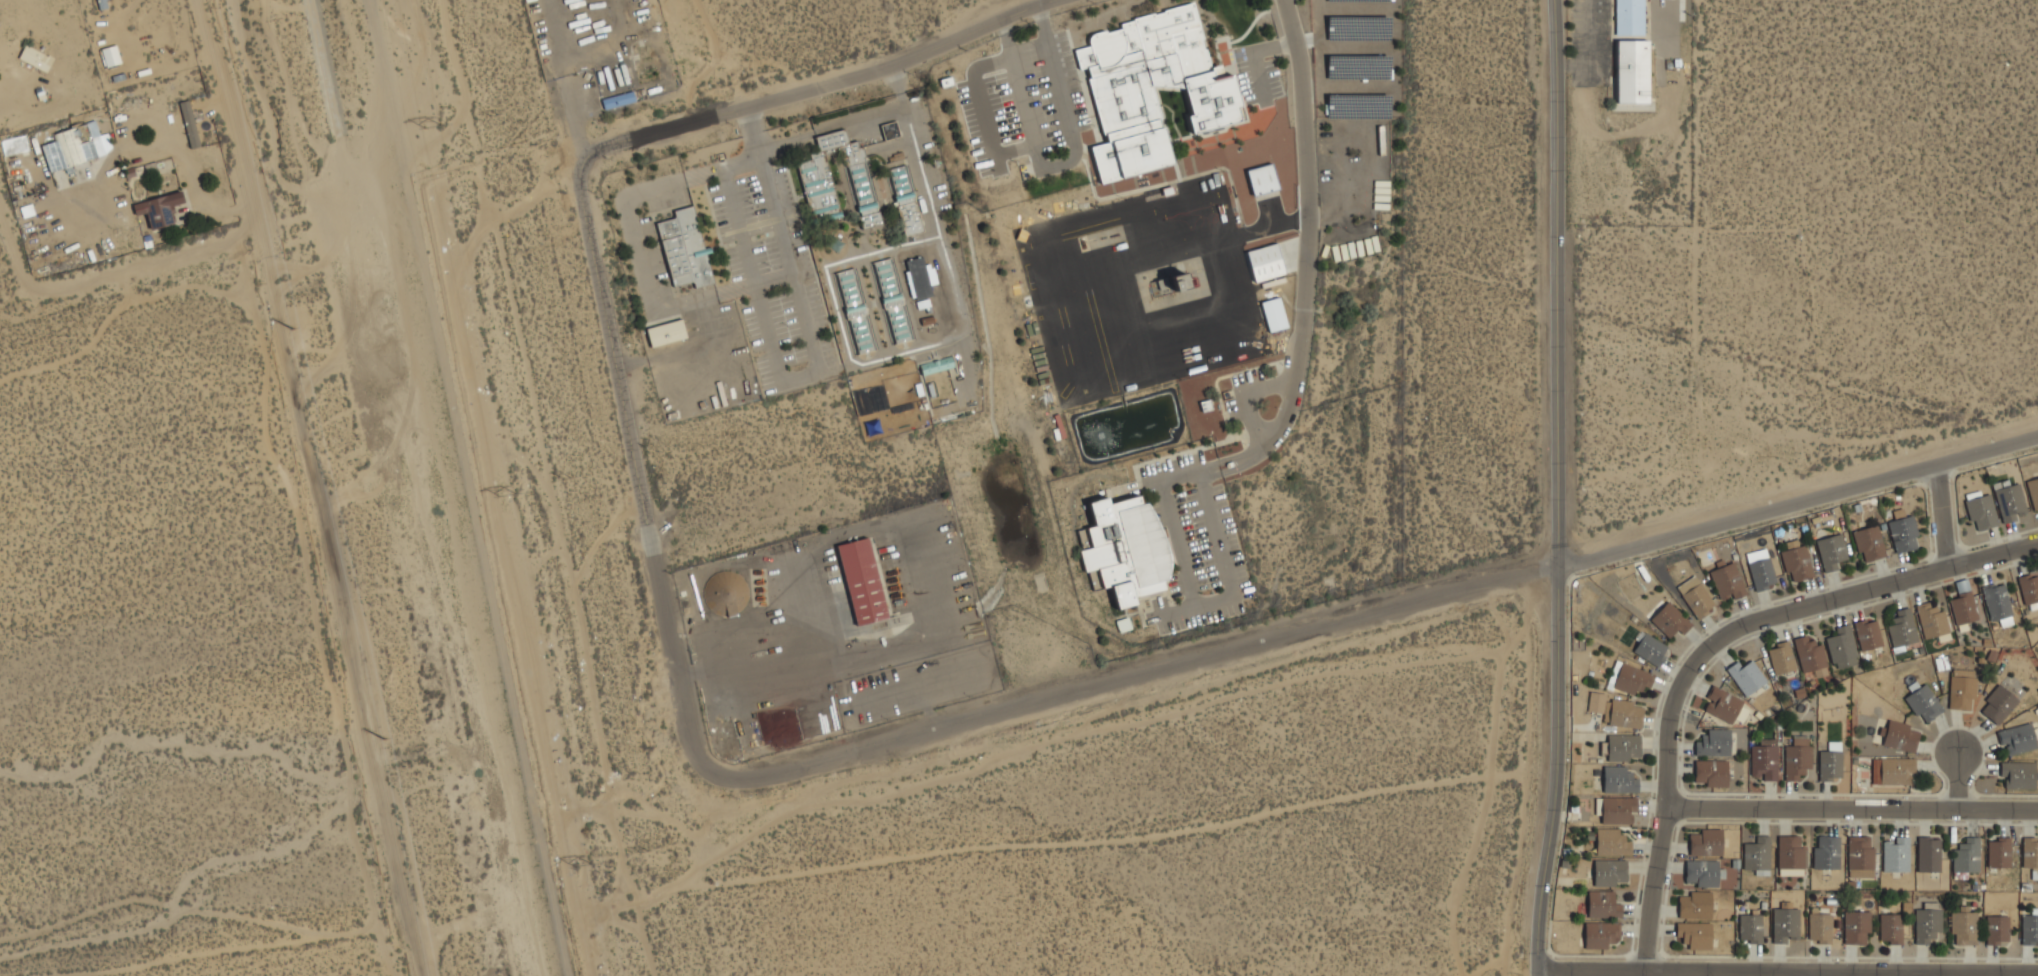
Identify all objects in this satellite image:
building: (101, 4)
building: (1630, 16)
road: (1589, 32)
parking lot: (1589, 42)
building: (1173, 51)
building: (111, 56)
building: (35, 58)
road: (1573, 63)
building: (1631, 70)
building: (1119, 82)
road: (825, 84)
building: (617, 101)
building: (1212, 104)
power tower: (495, 119)
road: (746, 121)
road: (843, 123)
building: (188, 126)
power tower: (433, 127)
road: (226, 128)
building: (890, 131)
building: (15, 145)
building: (72, 147)
building: (1128, 154)
road: (188, 171)
building: (1262, 179)
building: (836, 181)
building: (907, 200)
building: (159, 213)
building: (686, 248)
road: (1305, 252)
building: (1265, 262)
parking lot: (774, 277)
building: (920, 278)
road: (89, 283)
building: (1171, 288)
building: (892, 301)
building: (856, 311)
building: (1274, 314)
power tower: (294, 330)
building: (668, 333)
road: (795, 377)
road: (634, 473)
power tower: (566, 478)
road: (1559, 488)
power tower: (509, 492)
building: (2033, 492)
road: (1798, 499)
building: (2009, 502)
road: (1945, 510)
building: (1980, 510)
building: (1903, 534)
building: (1869, 543)
building: (1129, 548)
building: (1831, 552)
building: (1797, 563)
building: (1760, 569)
building: (1727, 581)
building: (866, 582)
road: (1858, 591)
building: (2029, 592)
building: (724, 596)
building: (1695, 597)
building: (1998, 605)
building: (1963, 608)
building: (1670, 620)
building: (1931, 621)
building: (1902, 629)
building: (1867, 635)
building: (1842, 648)
building: (1650, 649)
building: (1810, 656)
building: (1781, 658)
building: (1746, 677)
road: (1136, 678)
building: (1632, 679)
building: (1961, 689)
building: (1596, 702)
building: (1923, 703)
building: (1722, 705)
building: (1998, 705)
building: (1624, 714)
building: (1900, 736)
power tower: (384, 738)
building: (2017, 739)
building: (1713, 743)
building: (1797, 759)
building: (1764, 761)
building: (1830, 762)
building: (1892, 771)
building: (1711, 773)
building: (2018, 775)
building: (1619, 780)
road: (1958, 782)
road: (1852, 809)
building: (1617, 810)
road: (1665, 819)
building: (1611, 842)
building: (1706, 843)
power tower: (642, 853)
building: (1826, 853)
building: (1999, 853)
building: (1757, 855)
building: (1790, 855)
building: (1895, 855)
building: (1928, 855)
building: (2030, 855)
building: (1860, 857)
power tower: (586, 868)
building: (1610, 872)
building: (1702, 873)
building: (1603, 905)
building: (1695, 905)
building: (1785, 924)
building: (1963, 926)
building: (1856, 927)
building: (1751, 928)
building: (1820, 928)
building: (1890, 928)
building: (2030, 928)
building: (1996, 929)
building: (1601, 934)
building: (1695, 935)
road: (1591, 967)
road: (1842, 969)
road: (1818, 972)

